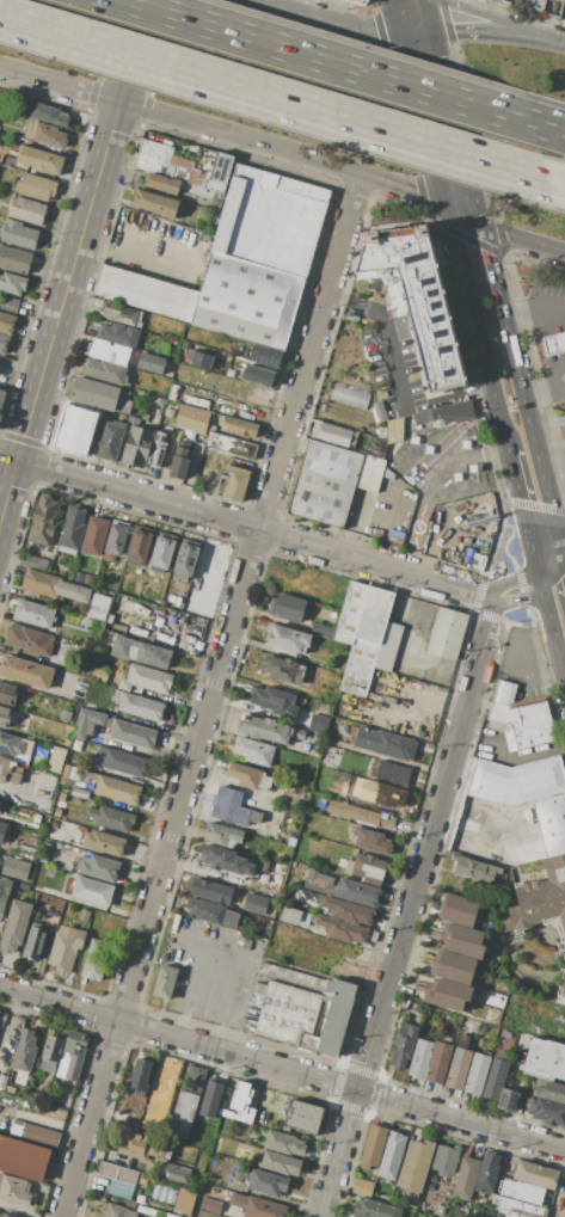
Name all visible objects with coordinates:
building: (561, 0)
building: (358, 1)
road: (265, 2)
building: (533, 4)
road: (393, 5)
building: (564, 6)
road: (492, 16)
road: (431, 17)
road: (447, 20)
road: (323, 21)
road: (379, 23)
road: (399, 24)
road: (490, 31)
traffic signals: (436, 33)
road: (419, 35)
traffic signals: (403, 37)
road: (554, 39)
road: (321, 59)
road: (192, 70)
road: (59, 84)
building: (44, 112)
road: (424, 121)
road: (543, 124)
road: (459, 128)
building: (43, 133)
road: (283, 149)
road: (455, 149)
building: (153, 156)
building: (38, 159)
building: (179, 167)
building: (219, 172)
road: (545, 176)
building: (162, 184)
building: (35, 188)
building: (154, 203)
traffic signals: (447, 205)
building: (26, 210)
building: (270, 221)
traffic signals: (483, 223)
road: (503, 233)
building: (18, 234)
road: (137, 254)
building: (14, 259)
road: (73, 260)
building: (12, 283)
building: (147, 294)
building: (418, 300)
building: (247, 302)
road: (532, 302)
building: (8, 303)
building: (123, 314)
road: (375, 318)
building: (6, 322)
road: (477, 325)
building: (118, 334)
building: (4, 343)
building: (553, 343)
building: (109, 351)
building: (265, 356)
building: (201, 358)
building: (151, 362)
building: (235, 369)
building: (105, 371)
building: (257, 375)
road: (518, 385)
building: (97, 394)
building: (348, 395)
road: (543, 395)
building: (1, 397)
building: (446, 413)
building: (0, 417)
building: (190, 418)
building: (237, 425)
building: (75, 430)
building: (394, 430)
building: (333, 434)
building: (106, 441)
building: (131, 444)
building: (229, 444)
road: (549, 444)
building: (154, 449)
road: (405, 456)
building: (176, 462)
building: (369, 472)
parking lot: (438, 472)
building: (234, 484)
building: (325, 484)
road: (555, 494)
road: (524, 512)
road: (423, 514)
building: (43, 520)
road: (244, 525)
building: (72, 530)
building: (94, 536)
building: (115, 540)
road: (563, 542)
building: (137, 547)
building: (162, 552)
road: (563, 554)
building: (185, 559)
building: (33, 563)
road: (552, 563)
road: (512, 580)
building: (53, 586)
road: (520, 596)
building: (287, 607)
building: (97, 613)
building: (364, 613)
building: (33, 614)
road: (553, 626)
building: (324, 632)
building: (447, 634)
building: (288, 638)
building: (343, 639)
building: (30, 640)
building: (388, 646)
building: (141, 653)
building: (81, 668)
building: (278, 668)
building: (358, 668)
building: (25, 671)
building: (99, 675)
building: (302, 675)
building: (146, 680)
building: (8, 694)
road: (211, 695)
building: (274, 701)
building: (137, 706)
building: (65, 715)
building: (5, 717)
building: (517, 718)
building: (87, 723)
building: (317, 723)
building: (265, 729)
building: (299, 733)
building: (133, 734)
building: (385, 743)
building: (13, 745)
building: (253, 751)
building: (55, 758)
building: (123, 762)
building: (93, 767)
building: (8, 772)
building: (393, 773)
building: (69, 774)
building: (92, 775)
building: (244, 775)
building: (515, 780)
building: (264, 782)
building: (117, 788)
building: (80, 793)
building: (386, 794)
road: (26, 797)
building: (0, 803)
building: (229, 806)
building: (56, 812)
building: (358, 813)
road: (473, 815)
building: (111, 817)
building: (256, 817)
building: (551, 822)
building: (1, 829)
building: (222, 835)
building: (370, 841)
building: (104, 842)
building: (226, 860)
building: (13, 867)
building: (100, 868)
building: (366, 868)
building: (474, 868)
building: (318, 881)
building: (208, 890)
building: (92, 891)
building: (4, 892)
building: (357, 892)
building: (539, 897)
building: (253, 903)
building: (459, 903)
road: (410, 906)
building: (205, 910)
building: (346, 910)
building: (84, 915)
building: (290, 915)
building: (455, 916)
building: (229, 918)
building: (14, 927)
building: (342, 929)
building: (462, 933)
building: (371, 936)
building: (33, 941)
building: (242, 941)
building: (462, 947)
building: (65, 948)
building: (96, 959)
building: (454, 959)
road: (237, 969)
building: (450, 973)
building: (164, 982)
building: (561, 986)
building: (449, 988)
road: (192, 991)
building: (442, 1000)
building: (300, 1008)
road: (7, 1019)
building: (403, 1045)
building: (24, 1051)
building: (50, 1053)
building: (420, 1058)
building: (72, 1059)
building: (545, 1059)
building: (437, 1062)
road: (282, 1068)
building: (457, 1068)
building: (477, 1074)
building: (141, 1075)
building: (495, 1080)
building: (8, 1089)
building: (551, 1092)
building: (209, 1098)
building: (508, 1100)
building: (186, 1102)
building: (241, 1102)
building: (547, 1111)
building: (303, 1117)
building: (33, 1133)
building: (283, 1143)
building: (373, 1147)
building: (139, 1149)
building: (392, 1155)
building: (23, 1157)
building: (444, 1160)
building: (280, 1163)
building: (414, 1164)
building: (172, 1172)
building: (487, 1172)
building: (117, 1173)
building: (535, 1175)
building: (465, 1179)
building: (265, 1182)
building: (362, 1187)
building: (14, 1191)
building: (520, 1192)
building: (184, 1200)
building: (238, 1200)
building: (210, 1205)
building: (263, 1209)
building: (375, 1209)
building: (514, 1209)
building: (146, 1210)
building: (118, 1211)
building: (6, 1215)
building: (356, 1216)

